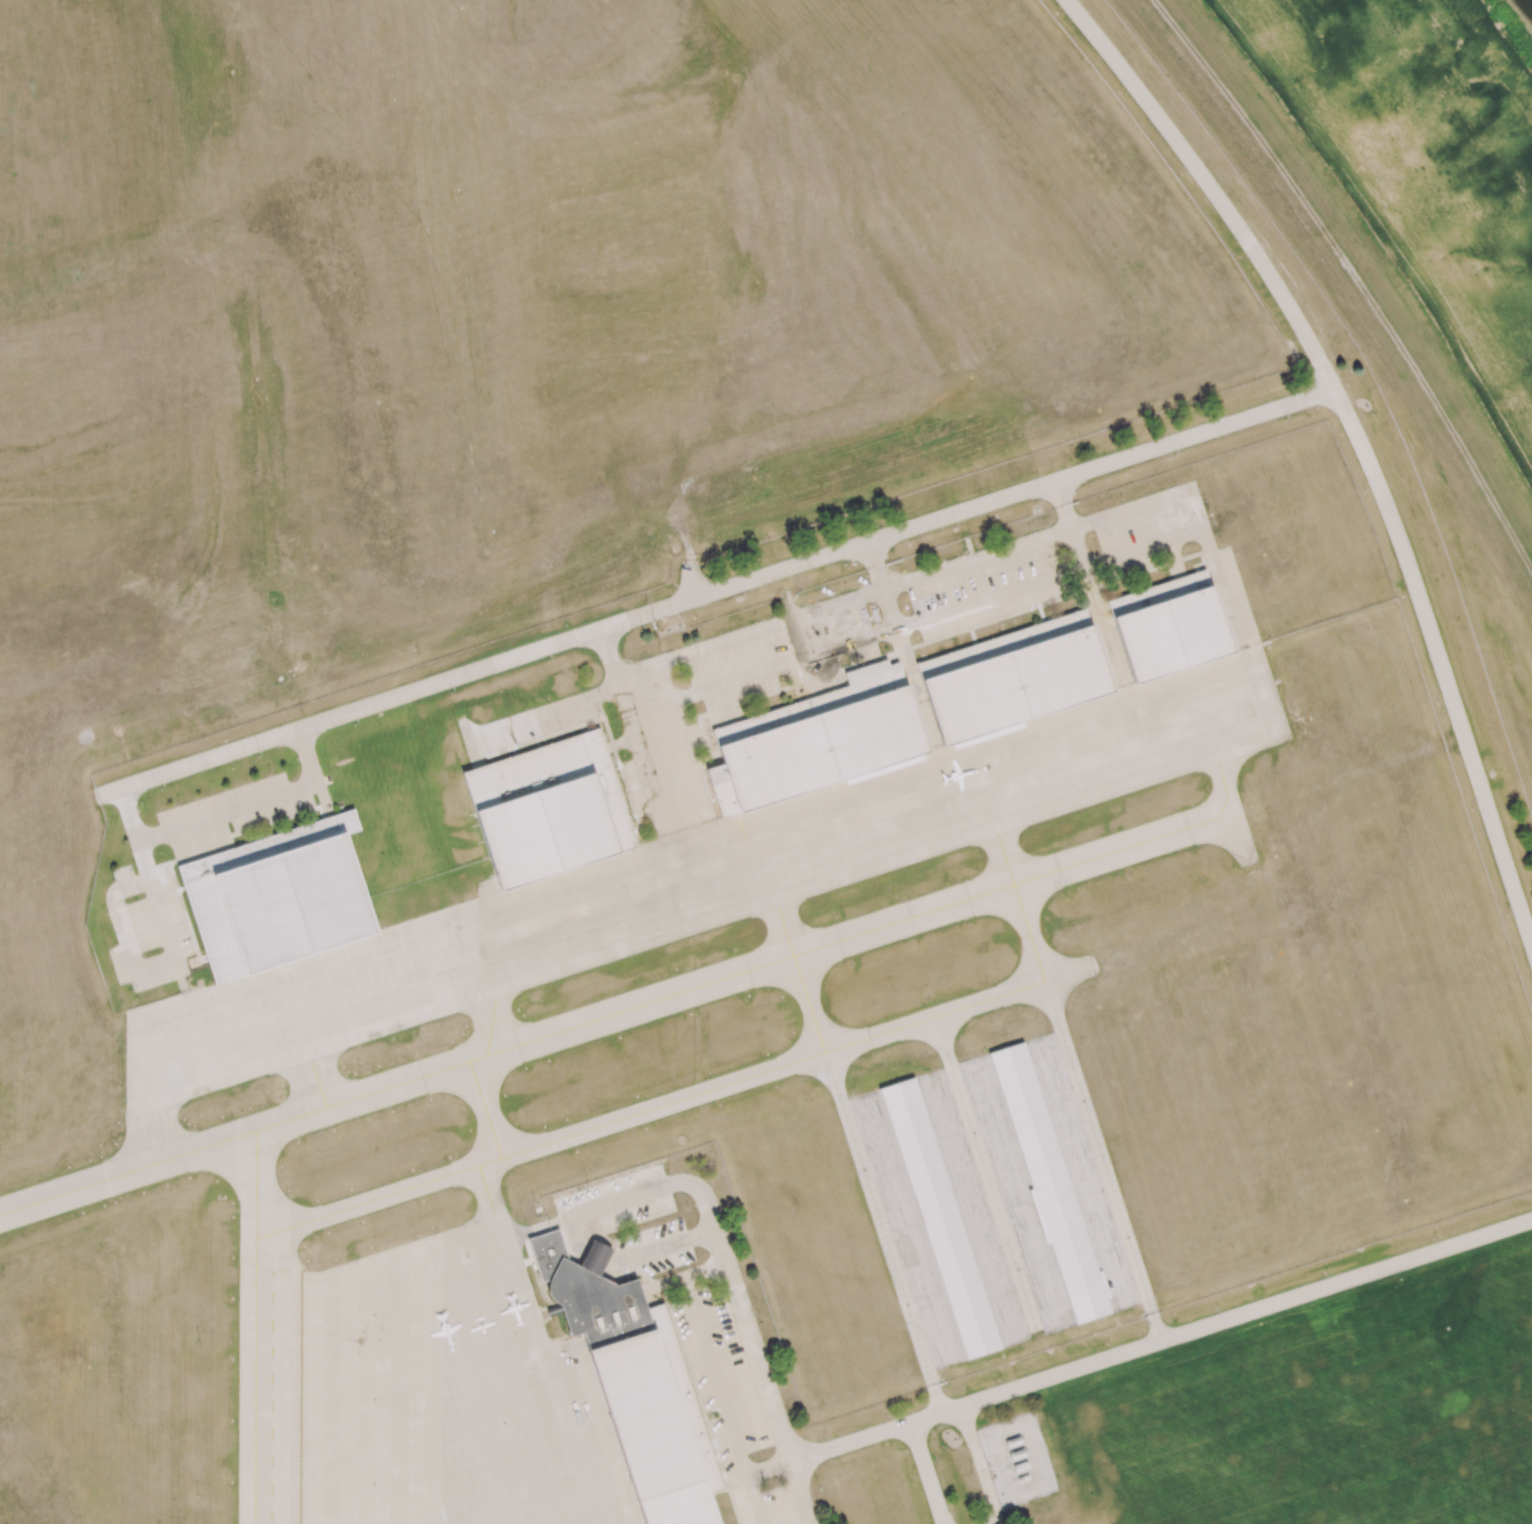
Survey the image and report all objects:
road: (1360, 442)
road: (691, 577)
road: (902, 583)
road: (1087, 586)
road: (720, 591)
road: (936, 617)
airport hangar: (1168, 628)
building: (1168, 628)
parking lot: (864, 639)
road: (900, 646)
road: (611, 654)
airport hangar: (1012, 678)
building: (1012, 678)
road: (683, 739)
airport hangar: (816, 741)
building: (816, 741)
road: (639, 750)
airport: (725, 794)
airport hangar: (547, 808)
building: (547, 808)
airport taxiway: (1233, 810)
road: (227, 811)
parking lot: (239, 813)
airport apron: (695, 880)
airport hangar: (276, 896)
building: (276, 896)
parking lot: (153, 928)
road: (159, 963)
airport taxiway: (802, 979)
airport taxiway: (622, 1011)
airport taxiway: (493, 1026)
airport taxiway: (1071, 1064)
airport taxiway: (319, 1083)
airport taxiway: (673, 1101)
airport taxiway: (486, 1109)
airport taxiway: (986, 1170)
airport hangar: (1048, 1182)
building: (1048, 1182)
airport taxiway: (257, 1183)
airport taxiway: (487, 1189)
road: (647, 1192)
road: (260, 1205)
airport taxiway: (876, 1211)
airport hangar: (941, 1219)
building: (941, 1219)
parking lot: (622, 1226)
road: (662, 1245)
road: (1153, 1317)
road: (1160, 1341)
road: (755, 1358)
airport taxiway: (256, 1380)
building: (639, 1390)
road: (934, 1391)
airport apron: (436, 1394)
parking lot: (738, 1395)
road: (722, 1402)
road: (978, 1465)
road: (925, 1474)

